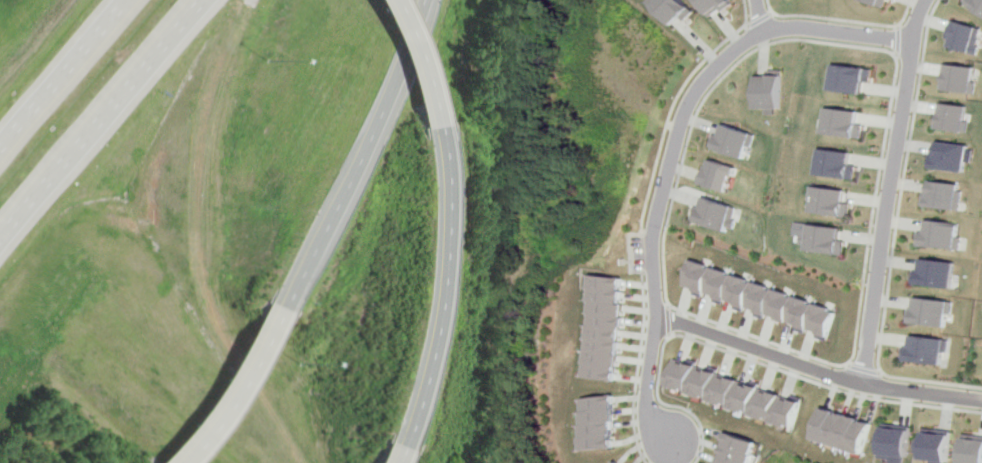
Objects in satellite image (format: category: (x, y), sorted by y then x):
building: (873, 2)
building: (712, 5)
building: (974, 5)
road: (768, 6)
building: (671, 9)
road: (758, 16)
road: (913, 19)
road: (758, 20)
road: (847, 21)
road: (836, 32)
building: (963, 38)
road: (895, 39)
road: (745, 57)
road: (410, 61)
road: (64, 76)
building: (849, 78)
building: (957, 78)
building: (770, 90)
road: (673, 104)
building: (951, 118)
building: (843, 122)
road: (103, 123)
building: (735, 140)
road: (354, 155)
building: (951, 156)
road: (671, 159)
building: (838, 164)
building: (720, 174)
building: (944, 195)
building: (833, 201)
road: (888, 212)
building: (716, 214)
road: (897, 235)
building: (942, 235)
building: (828, 239)
building: (936, 273)
road: (434, 288)
building: (759, 297)
building: (932, 311)
road: (665, 321)
building: (599, 329)
road: (638, 338)
building: (927, 349)
road: (759, 350)
road: (746, 357)
road: (868, 370)
road: (645, 384)
road: (238, 390)
building: (735, 392)
road: (923, 392)
building: (593, 423)
building: (846, 430)
building: (897, 442)
building: (937, 445)
building: (972, 448)
building: (738, 450)
road: (391, 455)
building: (611, 462)

